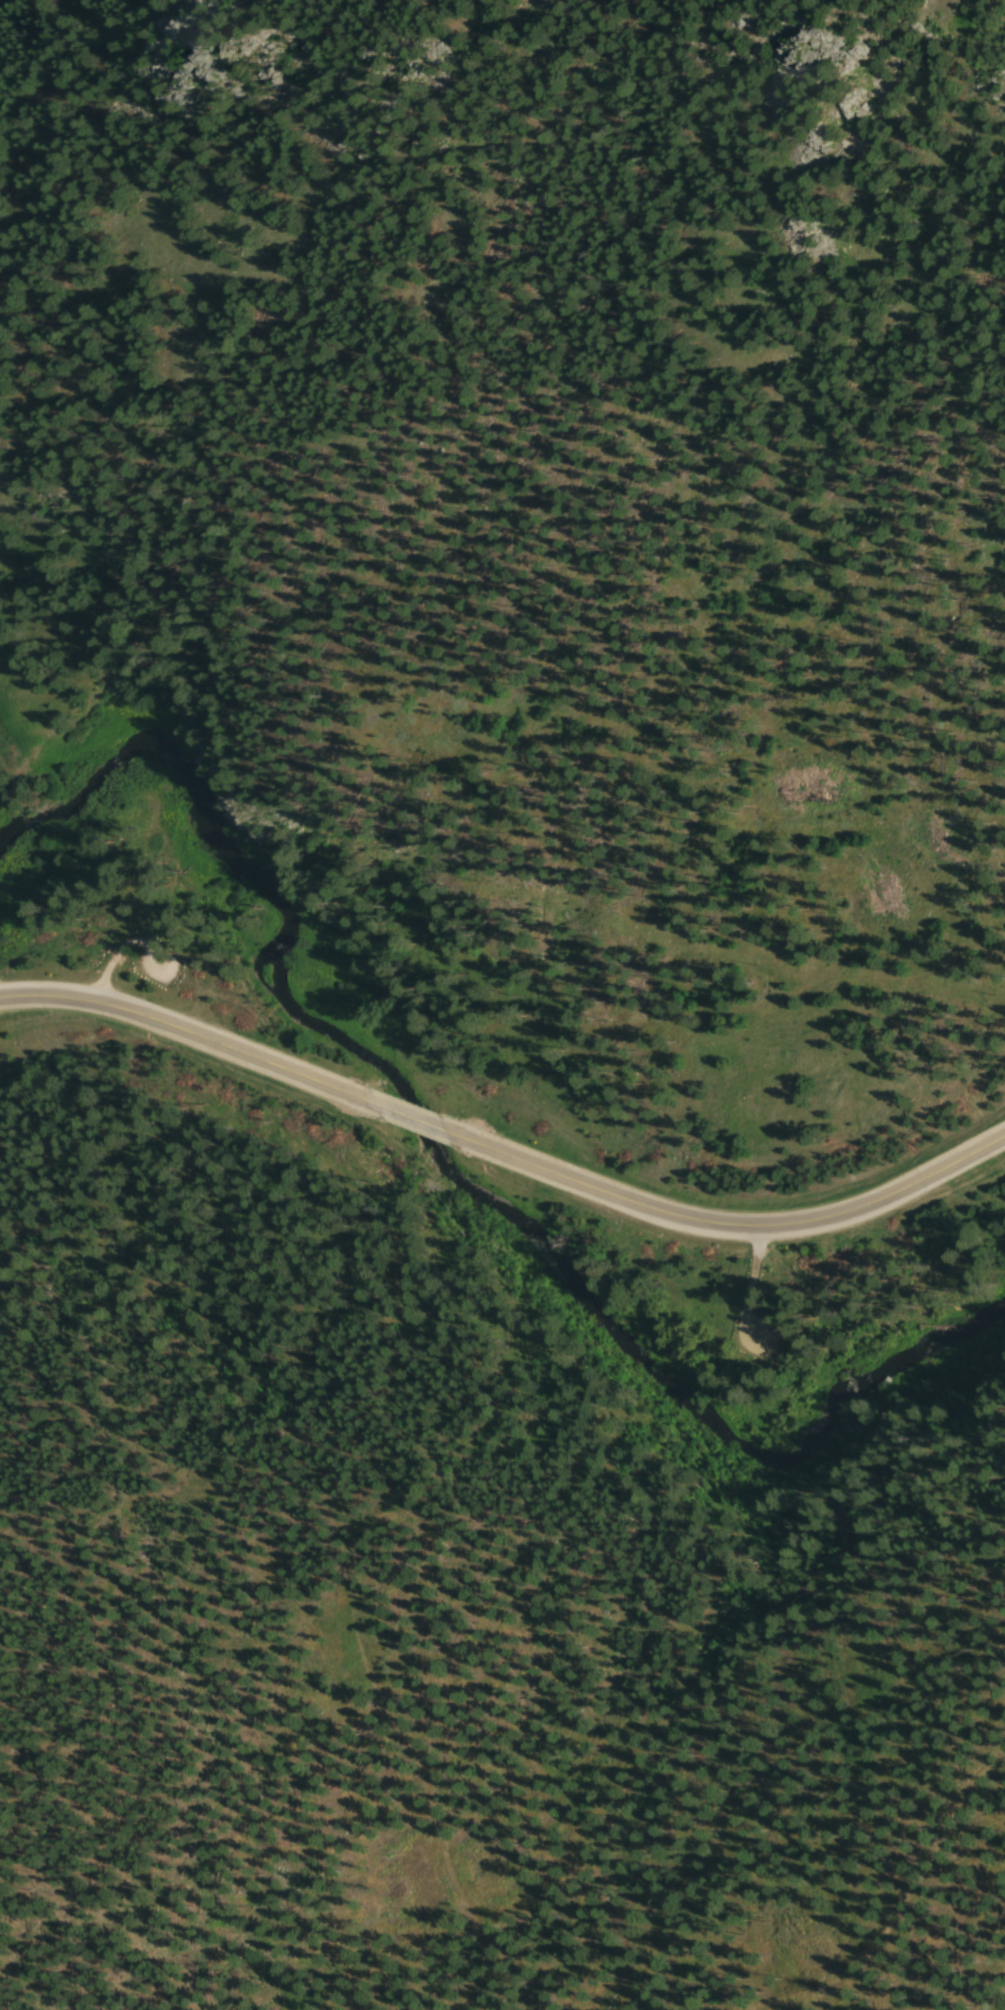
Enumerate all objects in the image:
road: (191, 1039)
road: (408, 1122)
road: (724, 1227)

